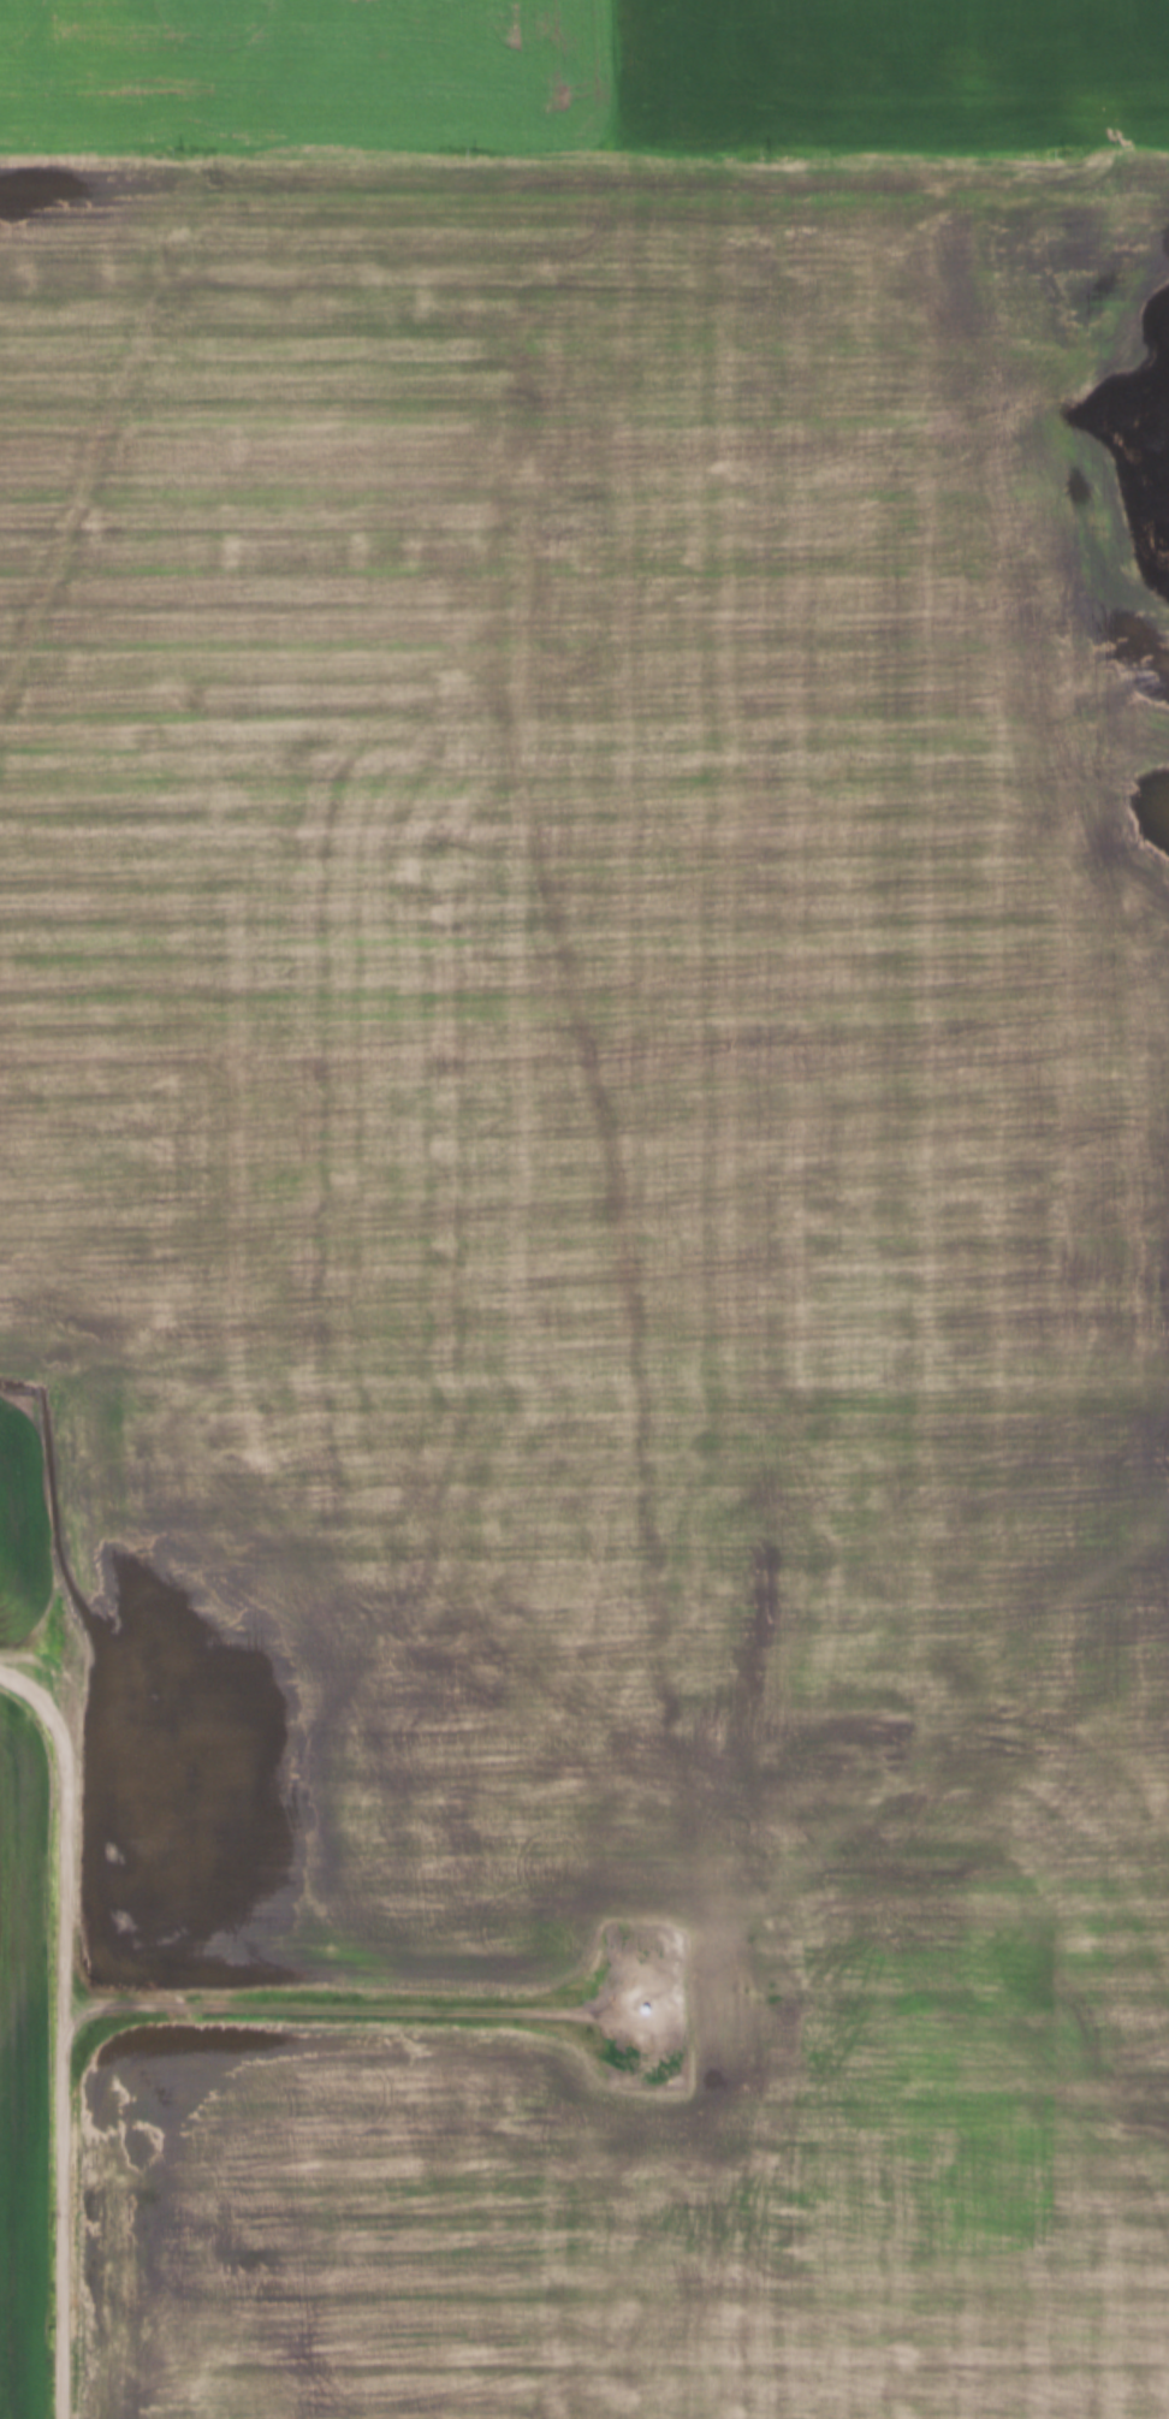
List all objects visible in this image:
road: (70, 1530)
road: (340, 1998)
road: (64, 2082)

